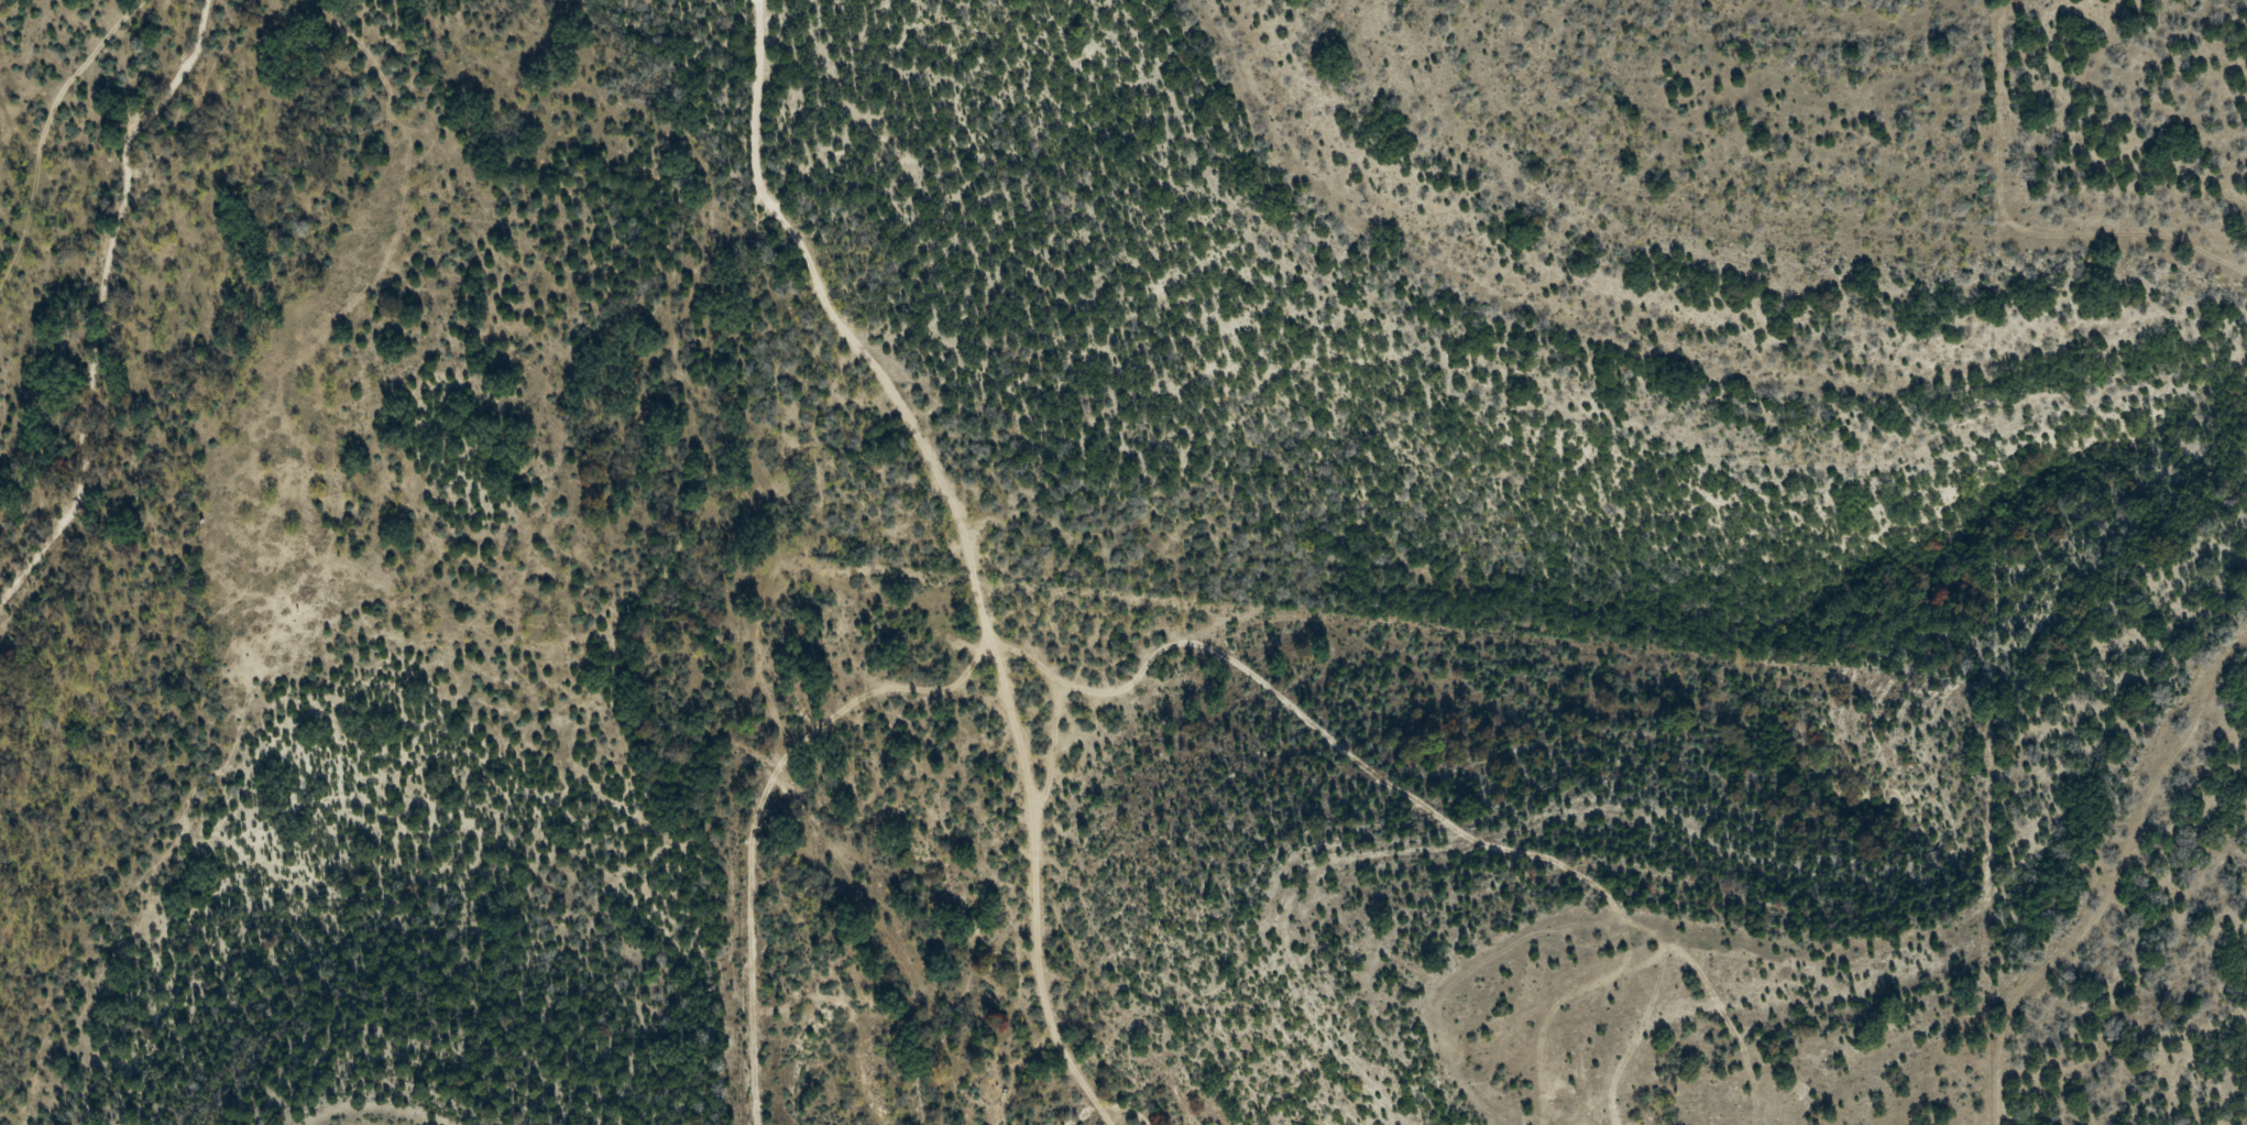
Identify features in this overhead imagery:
road: (931, 565)

